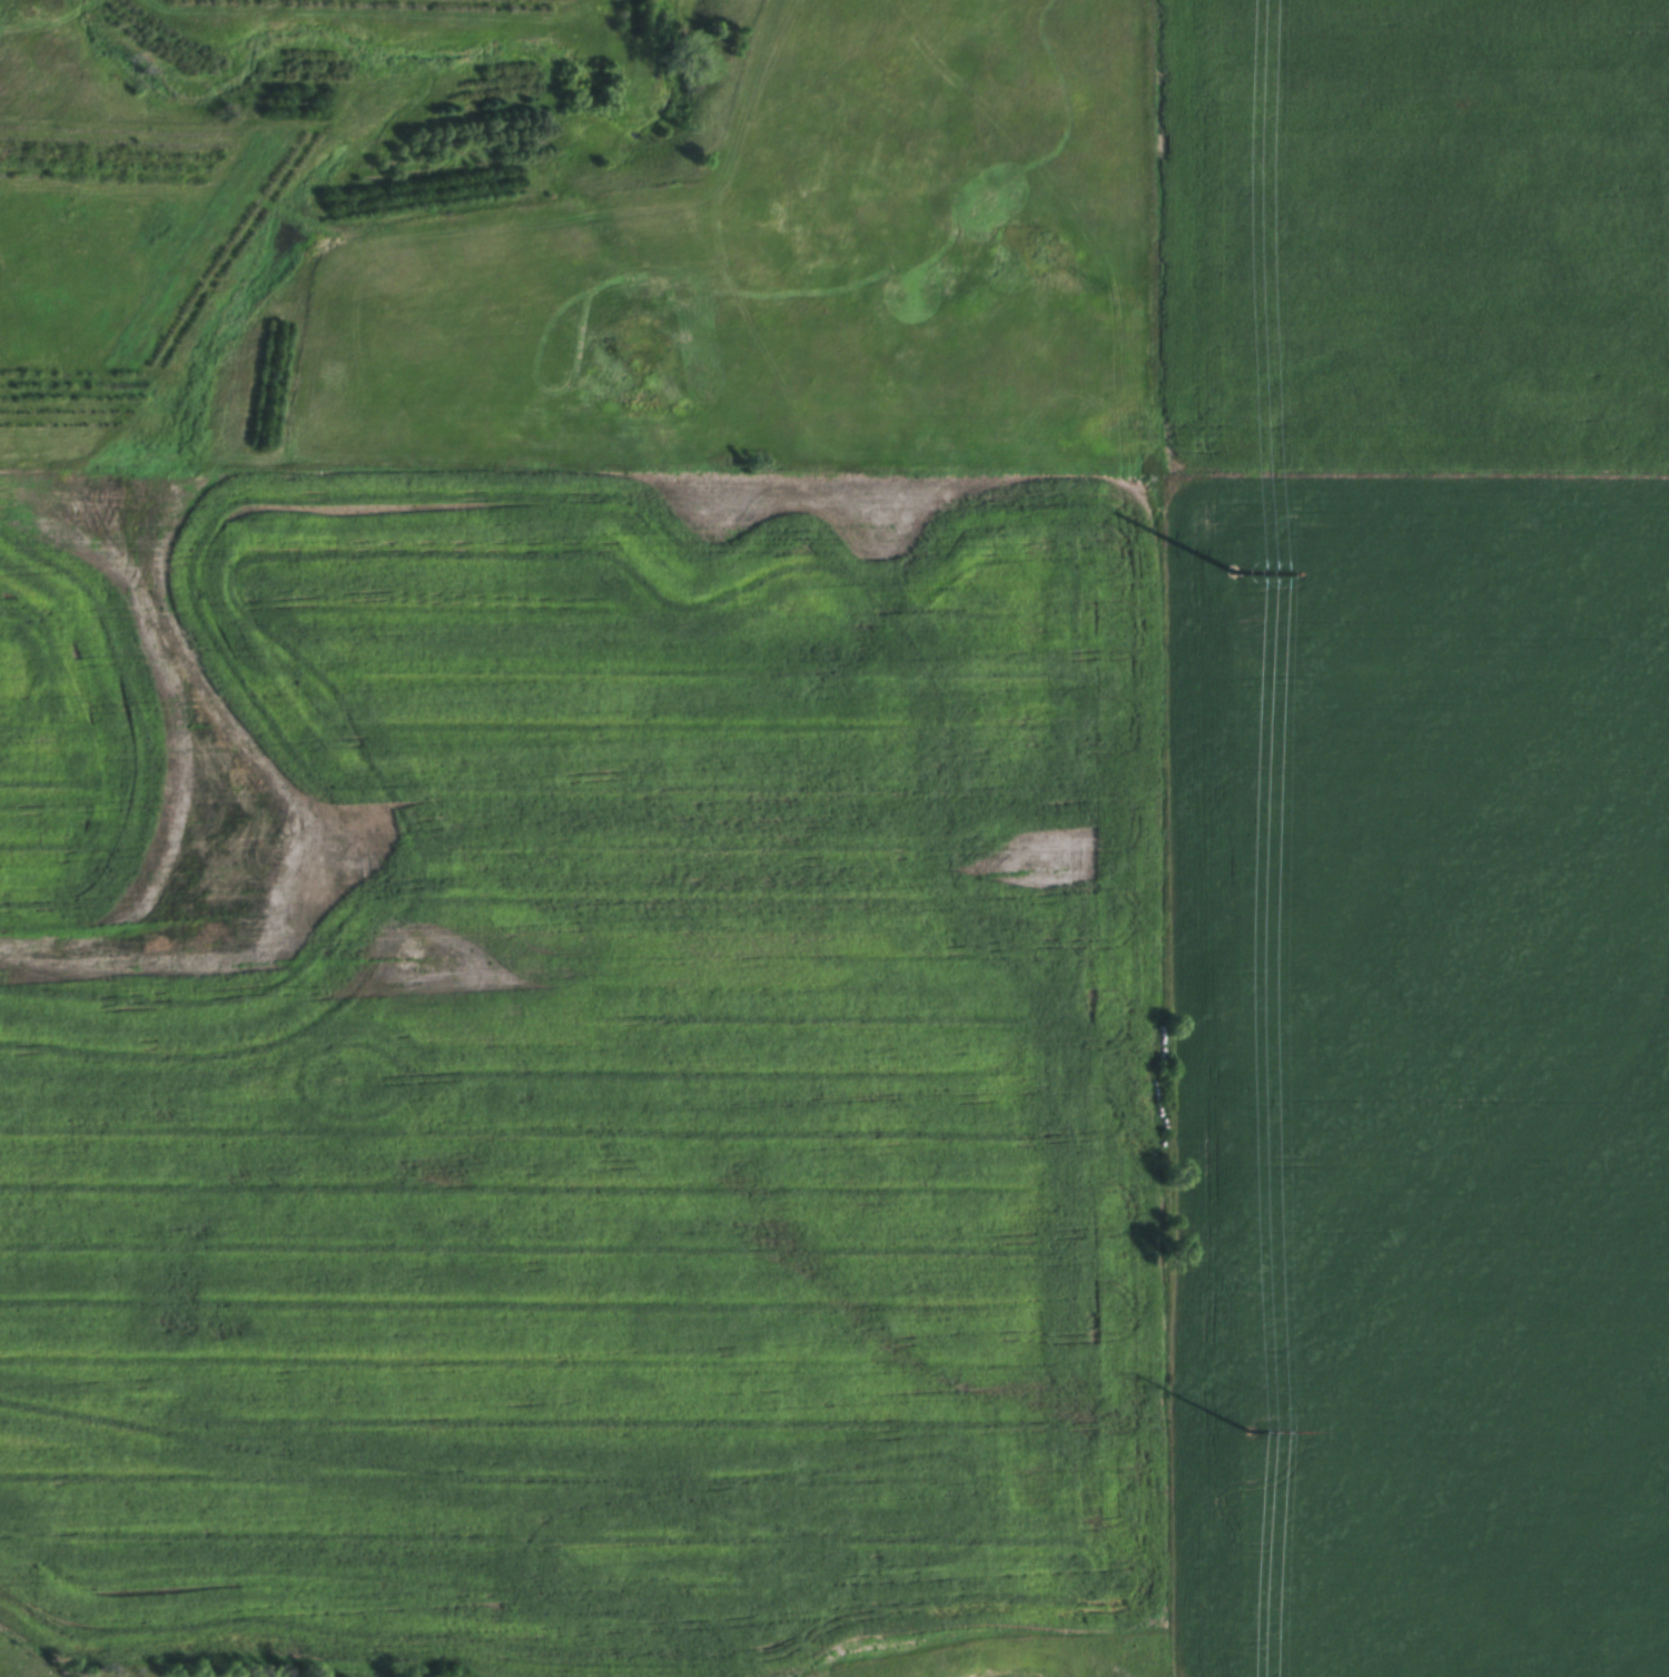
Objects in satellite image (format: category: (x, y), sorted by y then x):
power tower: (1235, 569)
power tower: (1250, 1427)

